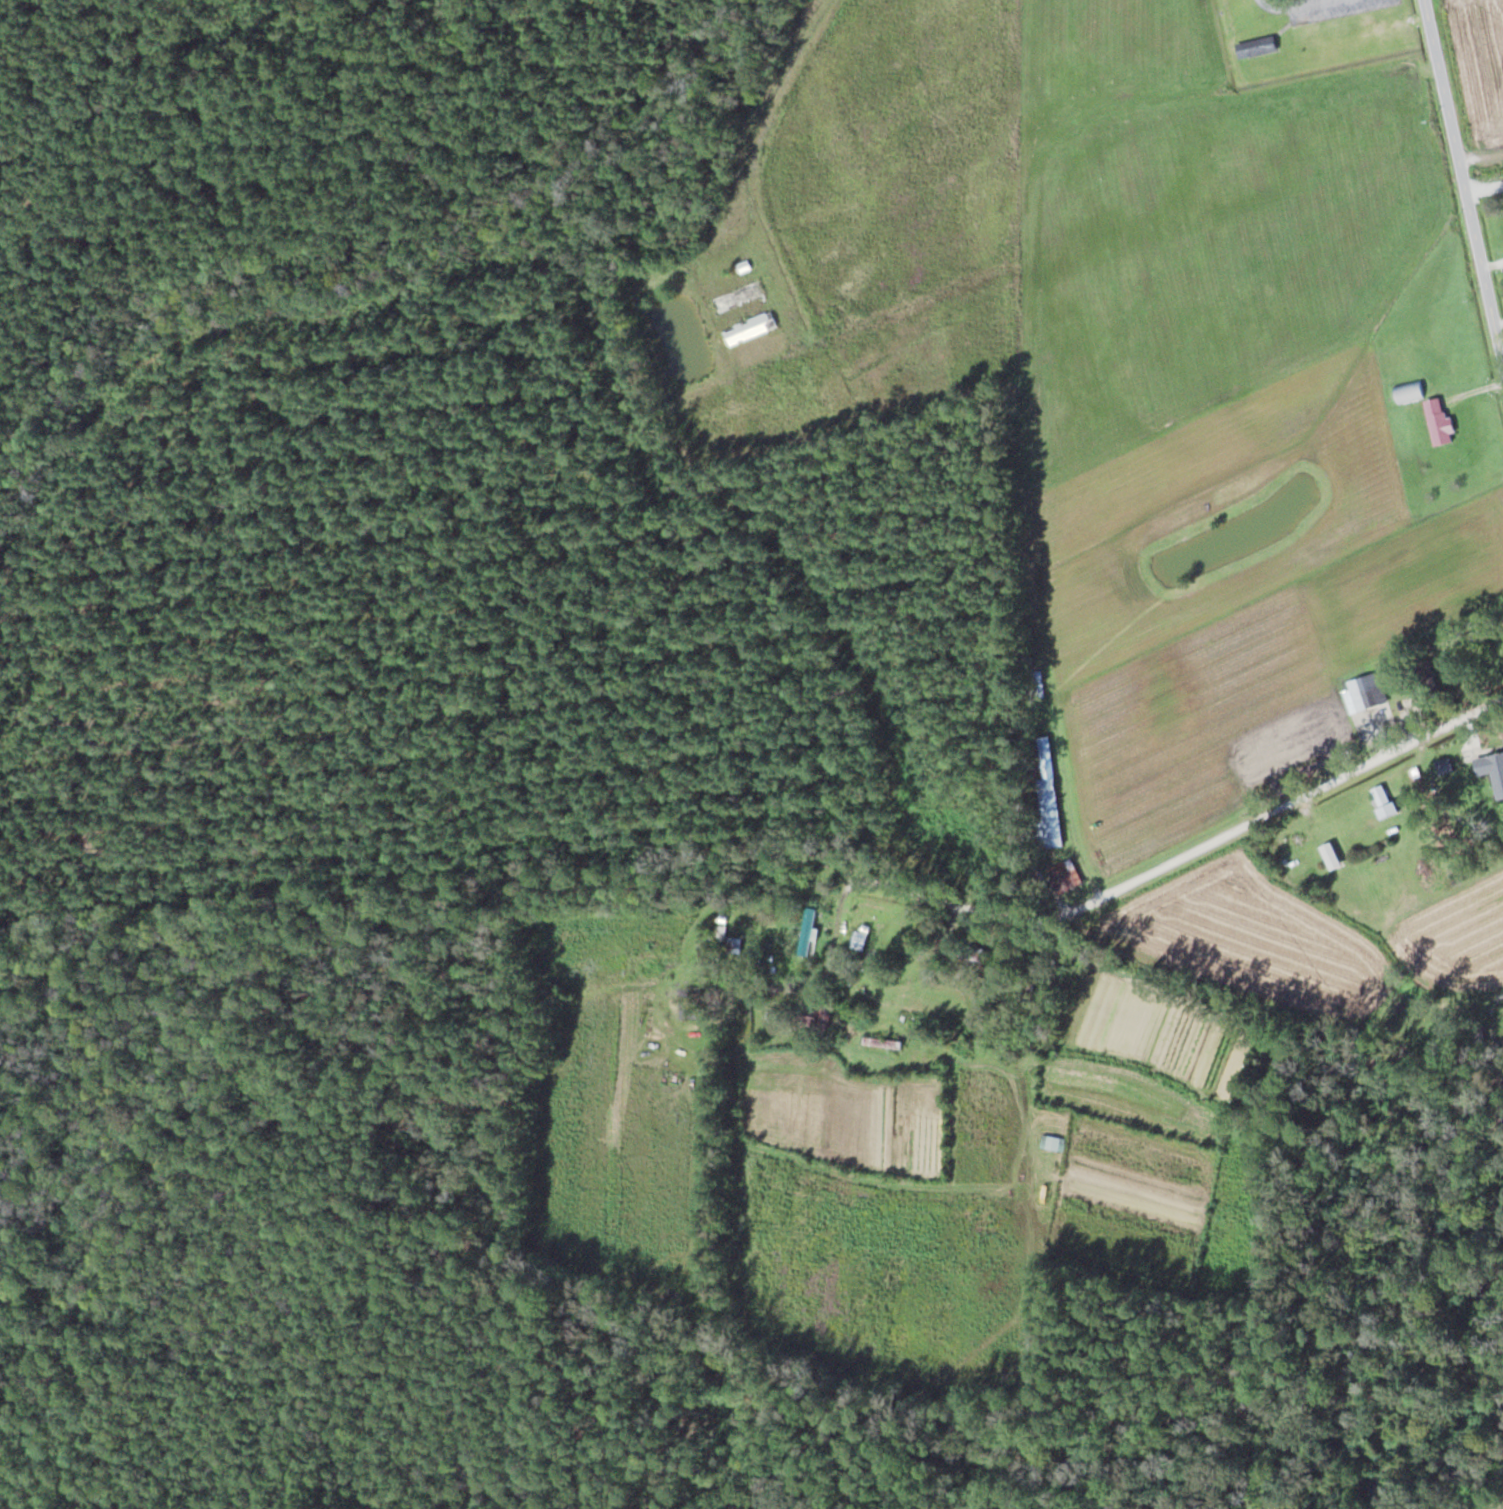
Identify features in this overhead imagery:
building: (1259, 46)
road: (1469, 132)
building: (730, 301)
building: (750, 328)
building: (1408, 391)
building: (1438, 421)
building: (1363, 692)
building: (1444, 766)
building: (1492, 770)
building: (1382, 801)
building: (1048, 812)
road: (1202, 835)
building: (1059, 879)
building: (735, 945)
building: (975, 955)
building: (1025, 991)
building: (689, 1002)
building: (815, 1016)
building: (1051, 1142)

